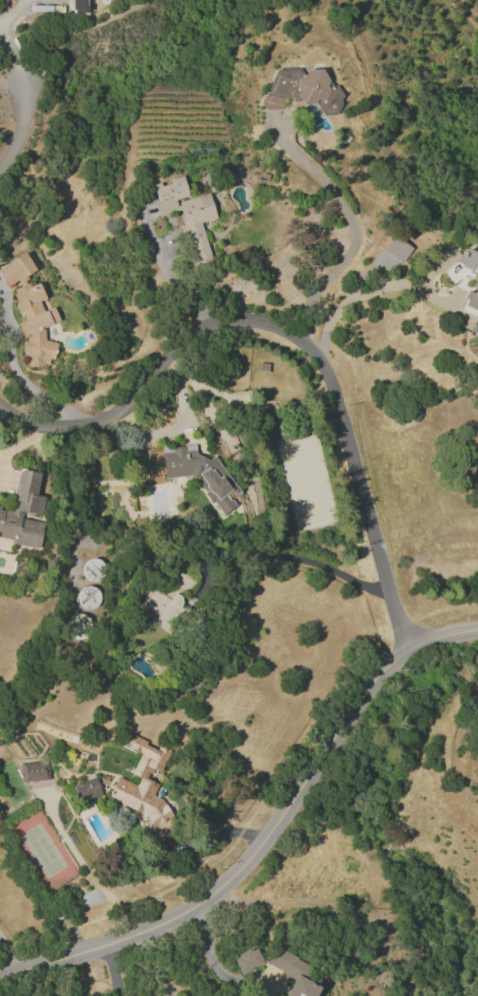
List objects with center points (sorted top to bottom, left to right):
road: (467, 9)
road: (12, 59)
road: (64, 67)
road: (11, 81)
building: (301, 89)
road: (19, 125)
building: (168, 194)
building: (196, 222)
road: (354, 233)
building: (397, 248)
building: (453, 271)
building: (475, 283)
road: (181, 284)
road: (368, 288)
building: (29, 311)
road: (287, 333)
road: (207, 388)
road: (177, 422)
building: (195, 472)
building: (90, 495)
building: (22, 512)
road: (301, 559)
building: (88, 597)
building: (162, 609)
building: (33, 771)
building: (144, 786)
building: (86, 790)
road: (216, 837)
road: (269, 837)
road: (6, 955)
building: (247, 960)
road: (149, 966)
road: (213, 967)
road: (113, 970)
building: (292, 972)
road: (78, 973)

